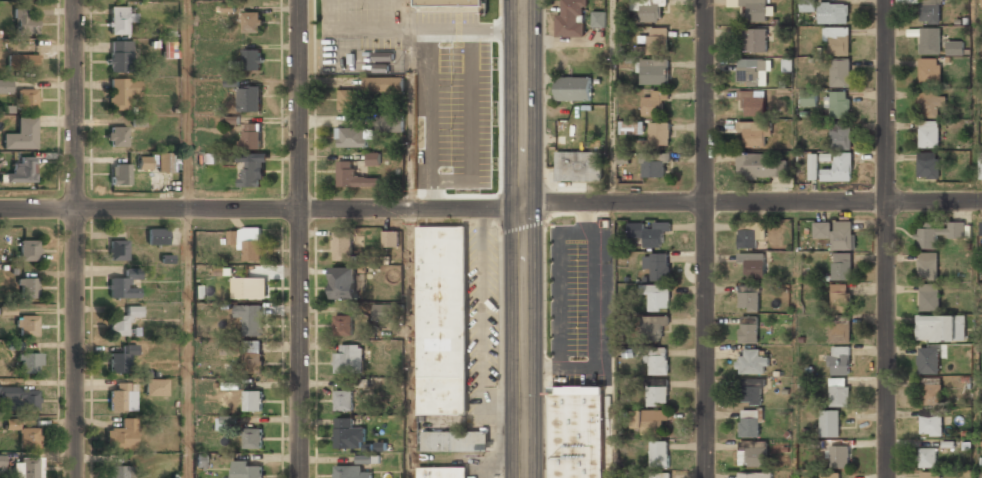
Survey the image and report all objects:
building: (451, 2)
building: (981, 3)
building: (808, 5)
building: (651, 10)
building: (755, 10)
building: (929, 11)
building: (833, 12)
building: (571, 18)
building: (598, 18)
building: (118, 20)
building: (23, 21)
building: (252, 21)
building: (656, 38)
building: (755, 40)
building: (837, 40)
building: (929, 40)
building: (429, 47)
building: (955, 47)
building: (169, 49)
building: (118, 54)
building: (252, 58)
building: (466, 58)
building: (22, 62)
building: (749, 70)
building: (929, 70)
building: (840, 71)
building: (654, 74)
building: (383, 84)
building: (5, 87)
building: (573, 88)
building: (459, 90)
building: (121, 92)
building: (810, 96)
building: (250, 99)
building: (26, 100)
building: (349, 100)
road: (611, 101)
road: (794, 101)
building: (752, 102)
building: (838, 102)
building: (653, 103)
building: (930, 103)
road: (409, 104)
road: (188, 105)
building: (391, 123)
building: (629, 127)
building: (471, 131)
building: (755, 132)
building: (117, 133)
building: (659, 133)
building: (929, 134)
building: (21, 135)
building: (841, 135)
building: (251, 136)
building: (352, 137)
building: (373, 158)
building: (164, 162)
building: (143, 163)
building: (654, 165)
building: (760, 165)
building: (928, 165)
building: (578, 166)
building: (457, 167)
building: (840, 167)
building: (980, 168)
building: (20, 171)
building: (251, 173)
building: (813, 173)
building: (119, 175)
building: (353, 176)
road: (752, 203)
road: (262, 209)
building: (981, 227)
building: (649, 231)
building: (750, 232)
building: (937, 232)
building: (836, 233)
building: (157, 236)
building: (391, 238)
road: (710, 238)
road: (76, 239)
road: (299, 239)
road: (524, 239)
road: (884, 239)
building: (248, 242)
building: (343, 245)
building: (28, 249)
building: (117, 249)
building: (753, 263)
building: (657, 264)
building: (928, 265)
building: (841, 266)
building: (346, 281)
building: (27, 287)
building: (120, 287)
building: (249, 288)
building: (657, 296)
building: (929, 296)
building: (840, 297)
building: (749, 298)
building: (382, 311)
building: (250, 318)
building: (442, 320)
building: (123, 321)
building: (26, 324)
building: (343, 325)
building: (653, 327)
building: (940, 328)
building: (749, 329)
building: (840, 332)
road: (793, 340)
road: (409, 343)
road: (188, 344)
building: (14, 345)
building: (252, 357)
building: (349, 358)
building: (121, 359)
building: (657, 360)
building: (839, 360)
building: (928, 360)
building: (752, 362)
building: (30, 363)
building: (156, 387)
building: (751, 391)
building: (930, 391)
building: (839, 392)
building: (657, 395)
building: (121, 397)
building: (19, 398)
building: (252, 400)
building: (343, 400)
building: (649, 419)
building: (750, 422)
building: (828, 422)
building: (225, 423)
building: (931, 425)
building: (343, 432)
building: (576, 432)
building: (25, 435)
building: (121, 435)
building: (253, 438)
building: (455, 441)
building: (754, 451)
building: (659, 454)
building: (839, 456)
building: (926, 457)
building: (368, 459)
building: (0, 460)
building: (202, 460)
building: (25, 467)
building: (246, 470)
building: (118, 472)
building: (351, 472)
building: (442, 472)
building: (829, 474)
building: (980, 474)
building: (659, 475)
building: (755, 475)
building: (929, 475)

